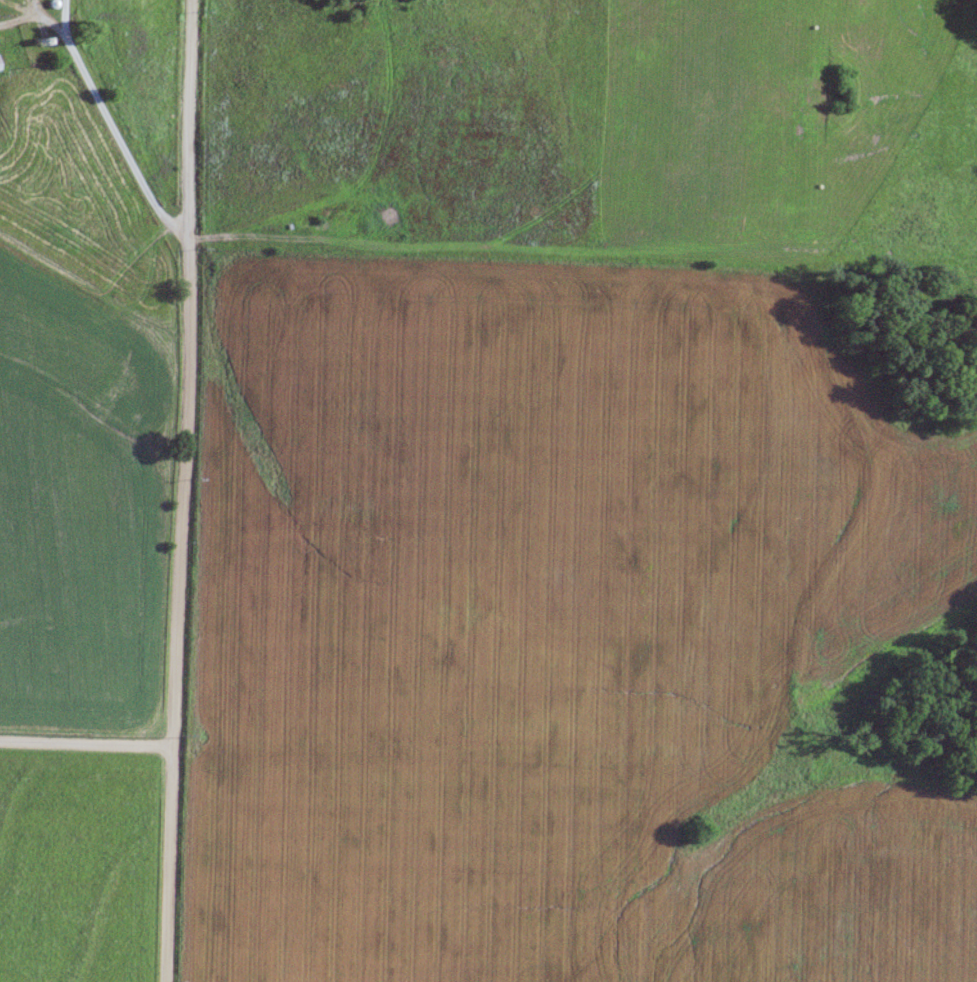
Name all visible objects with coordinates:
building: (45, 40)
road: (110, 121)
road: (181, 491)
road: (85, 746)

